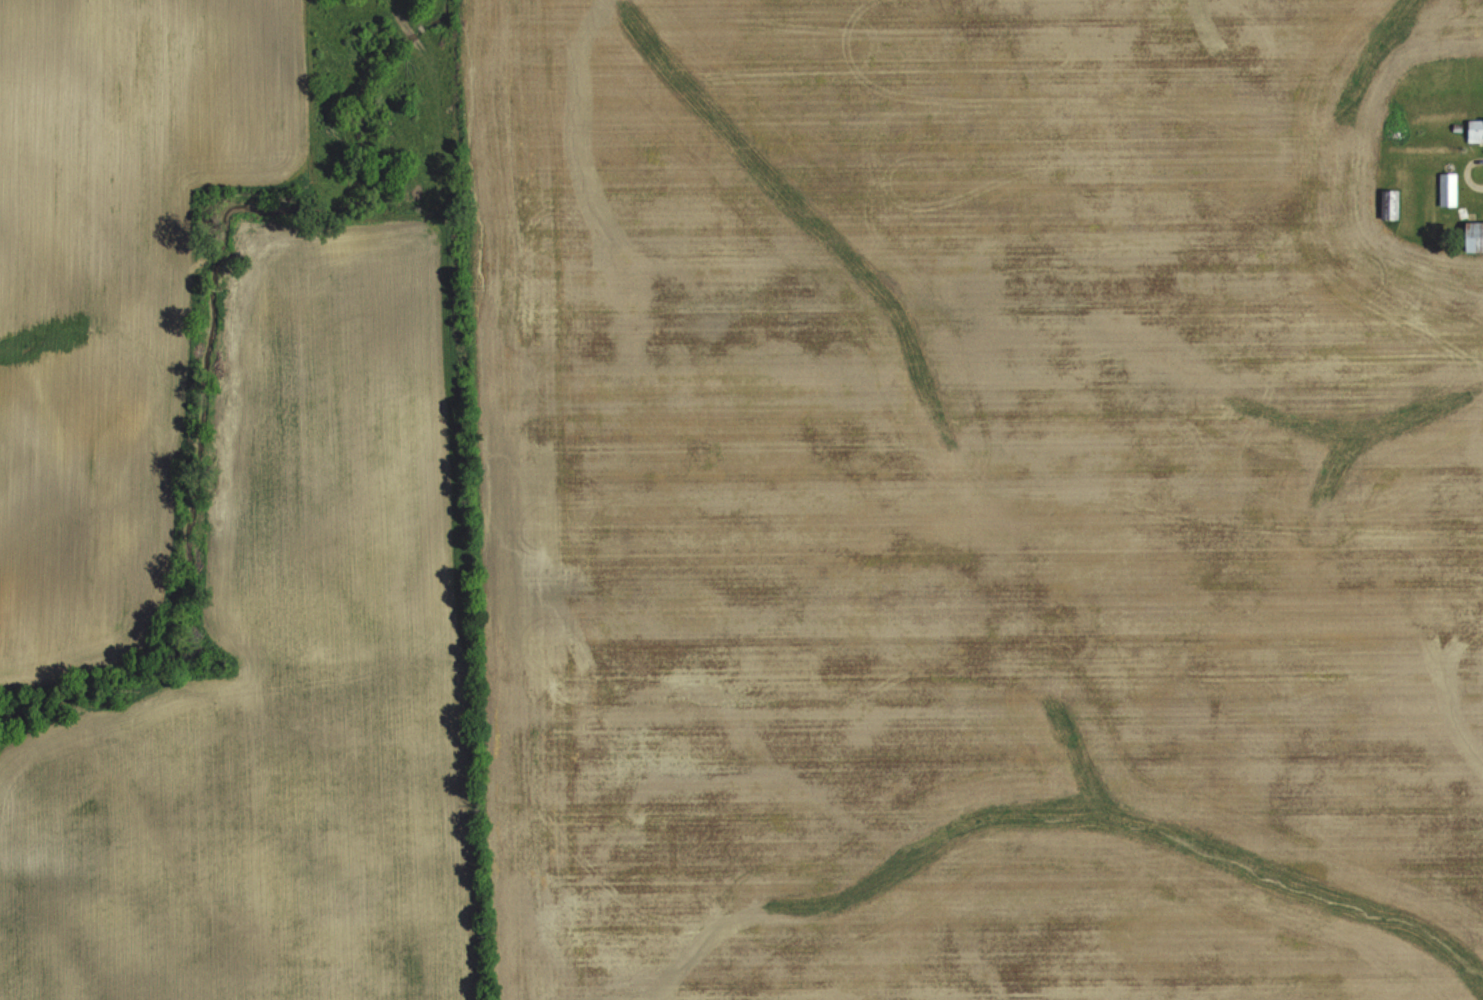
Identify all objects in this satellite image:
building: (1476, 129)
road: (1465, 172)
building: (1448, 189)
building: (1390, 204)
building: (1475, 236)

